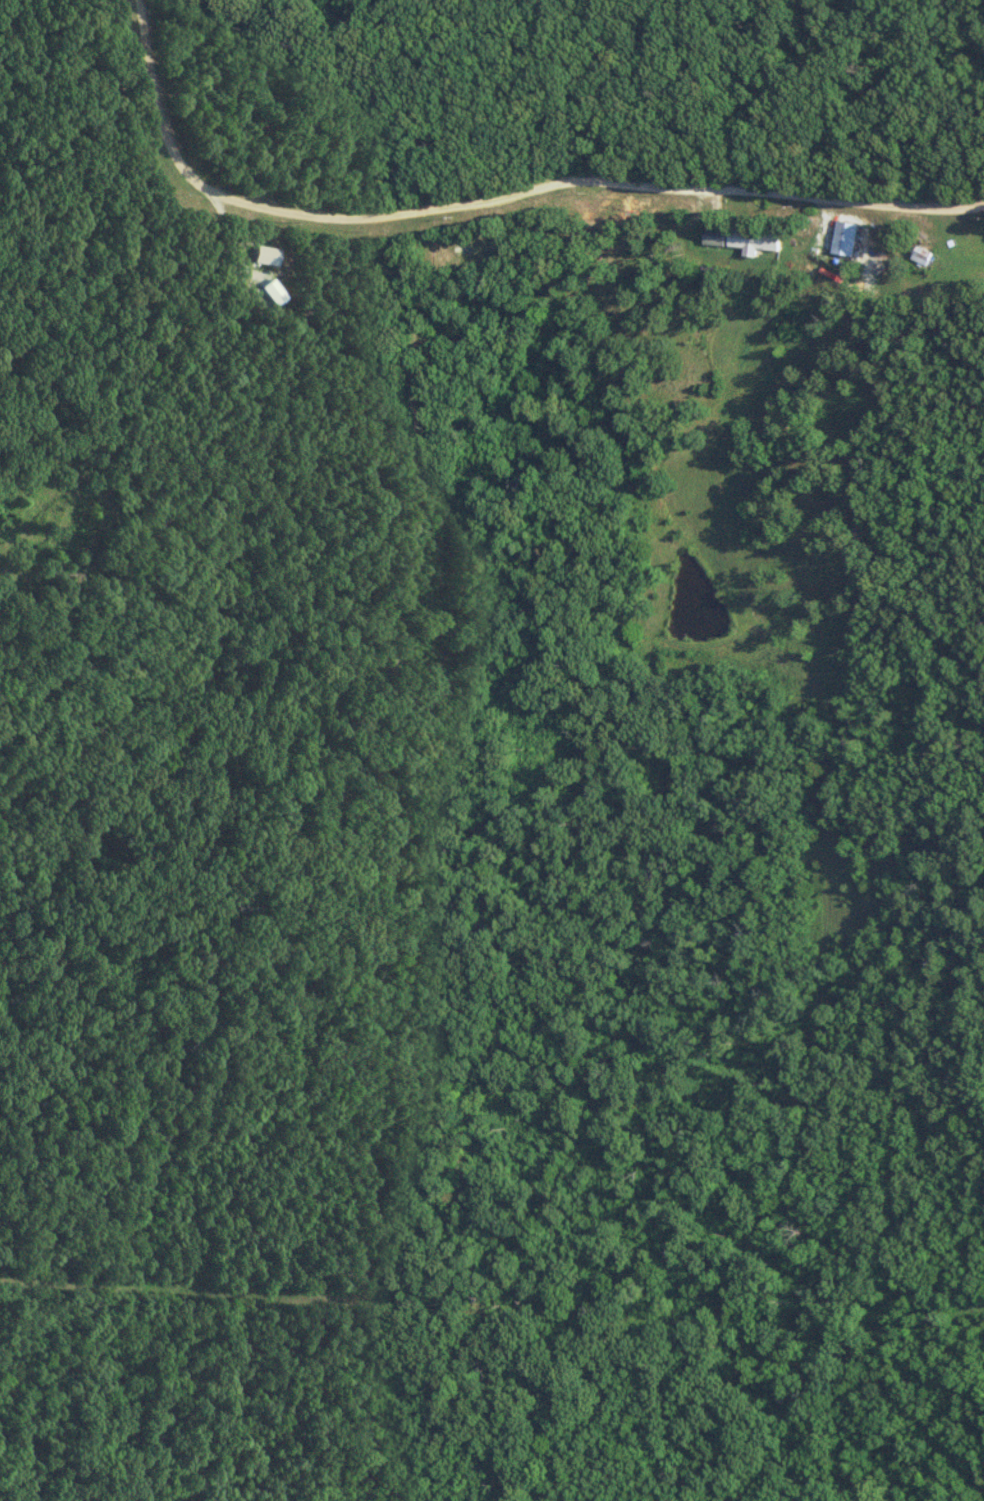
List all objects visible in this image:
road: (495, 188)
building: (844, 239)
building: (741, 240)
building: (472, 249)
building: (920, 252)

